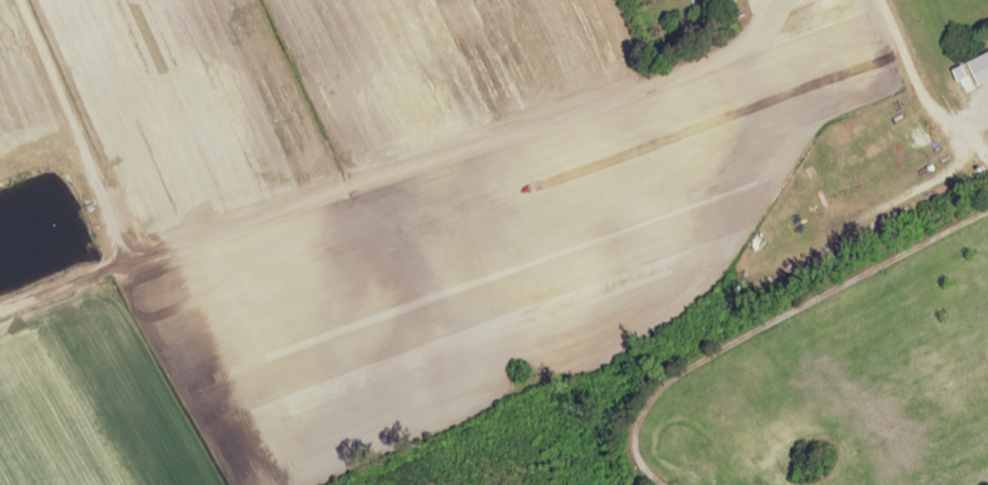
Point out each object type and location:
building: (661, 0)
road: (927, 78)

